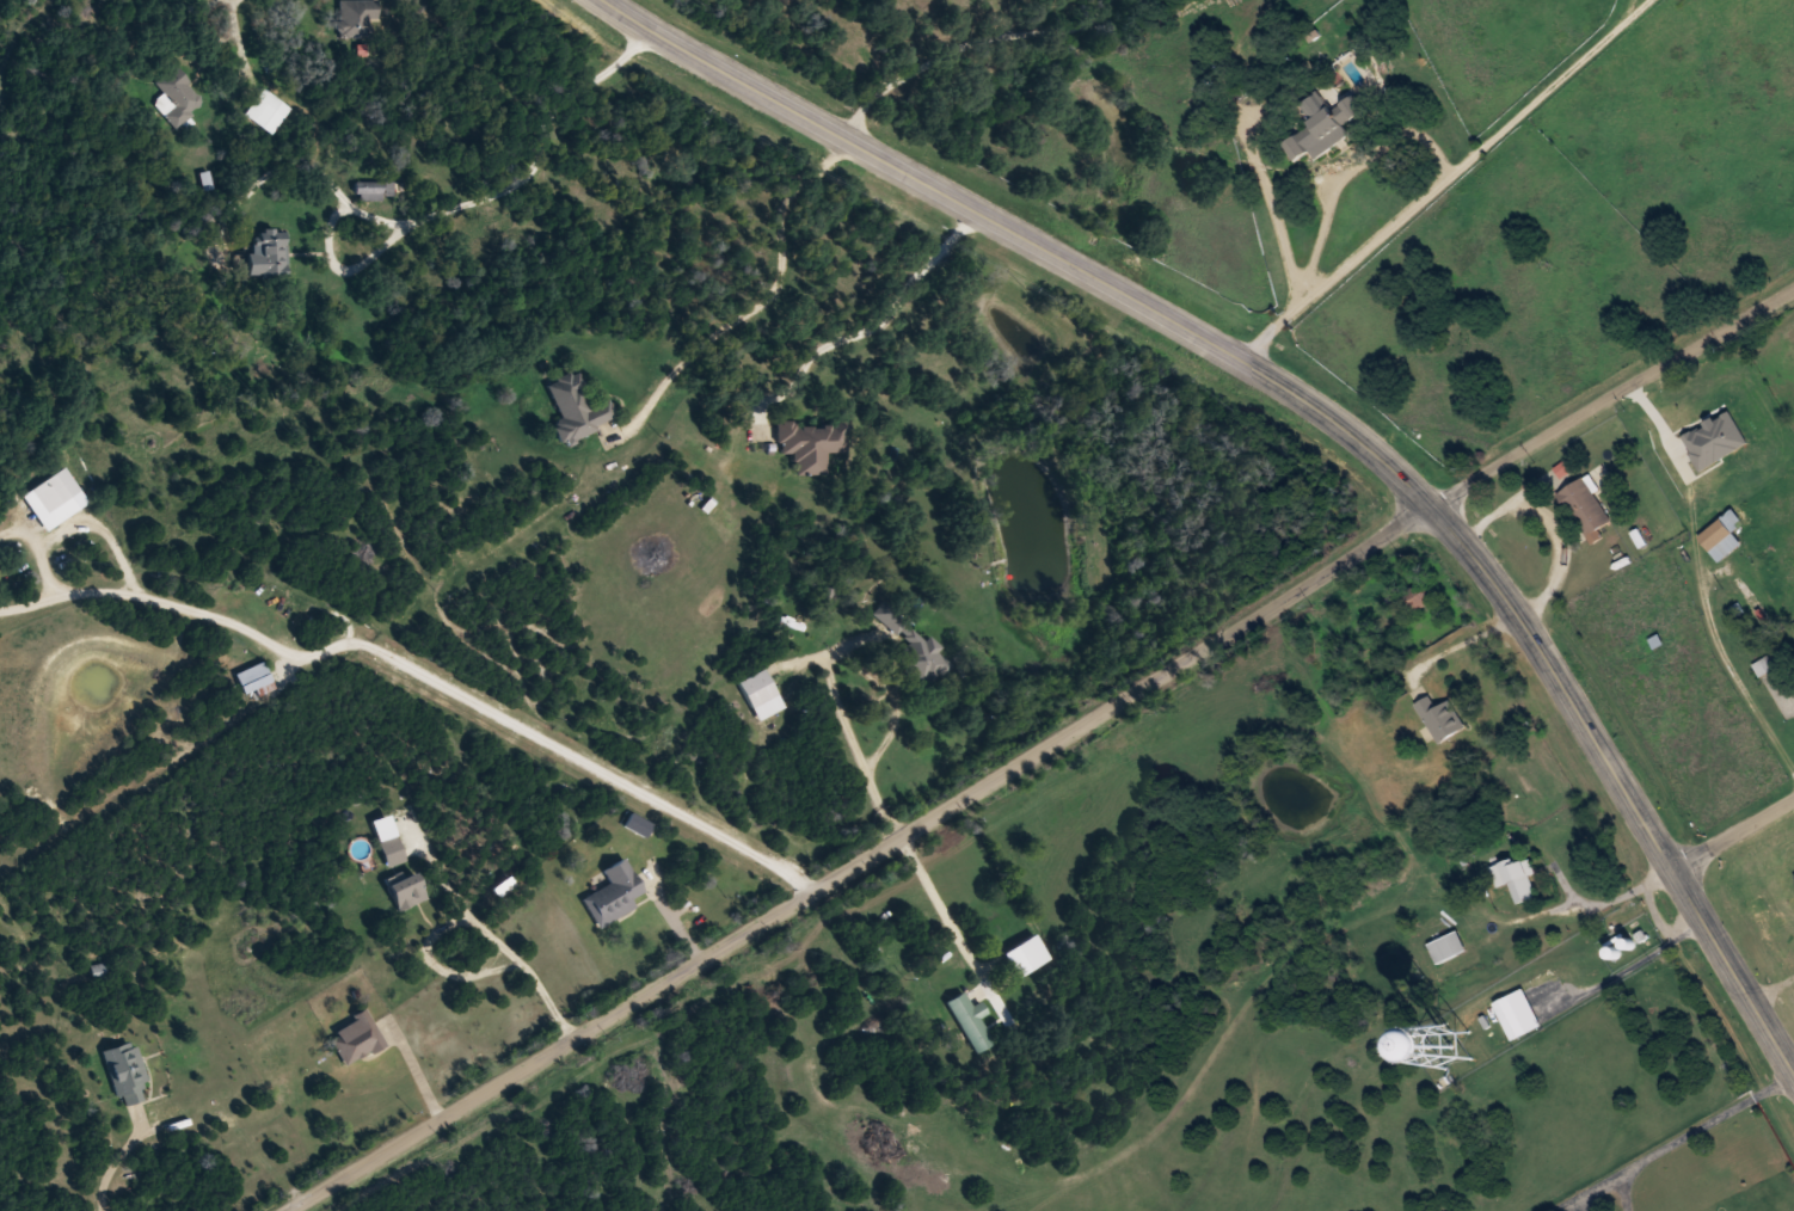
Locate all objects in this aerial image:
building: (355, 17)
road: (161, 63)
building: (176, 97)
building: (264, 111)
building: (1322, 127)
road: (1444, 178)
building: (373, 190)
building: (265, 256)
road: (684, 325)
road: (1614, 391)
building: (575, 407)
road: (1316, 411)
building: (809, 443)
building: (1747, 454)
building: (53, 490)
building: (1585, 506)
building: (1722, 534)
road: (898, 571)
building: (914, 645)
building: (252, 681)
building: (758, 694)
building: (1440, 718)
road: (1732, 829)
building: (389, 852)
road: (856, 856)
building: (1516, 878)
building: (403, 891)
building: (612, 892)
building: (1446, 947)
building: (1025, 955)
building: (1511, 1019)
building: (970, 1021)
building: (354, 1038)
building: (124, 1071)

